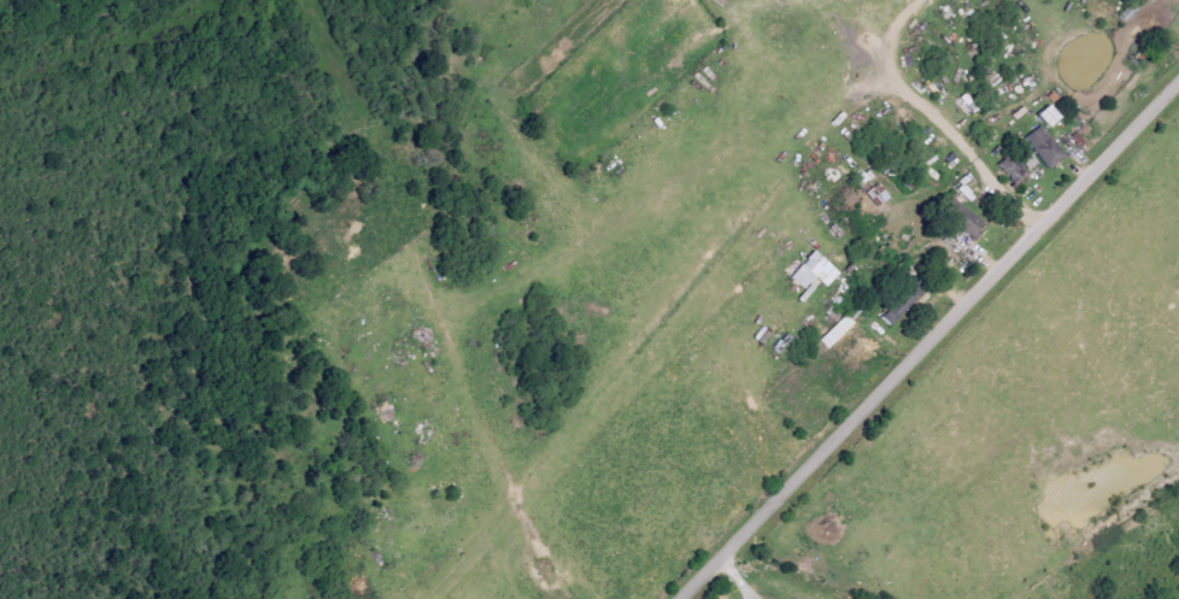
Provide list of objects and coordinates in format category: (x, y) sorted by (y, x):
building: (1052, 116)
road: (938, 121)
building: (1046, 147)
building: (1014, 169)
building: (879, 195)
building: (970, 223)
building: (816, 271)
building: (902, 305)
road: (933, 342)

